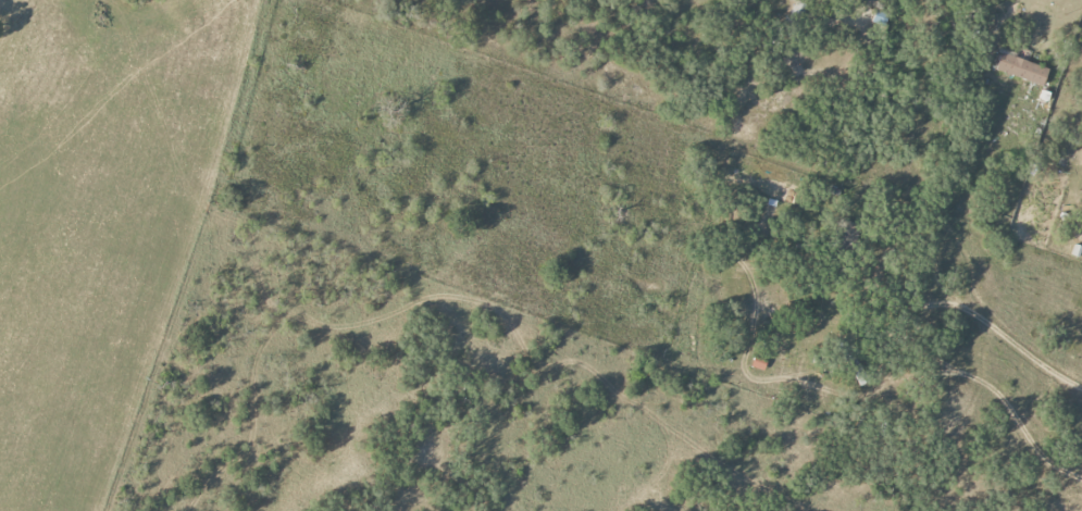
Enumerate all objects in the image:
road: (1006, 20)
building: (1022, 68)
building: (759, 363)

